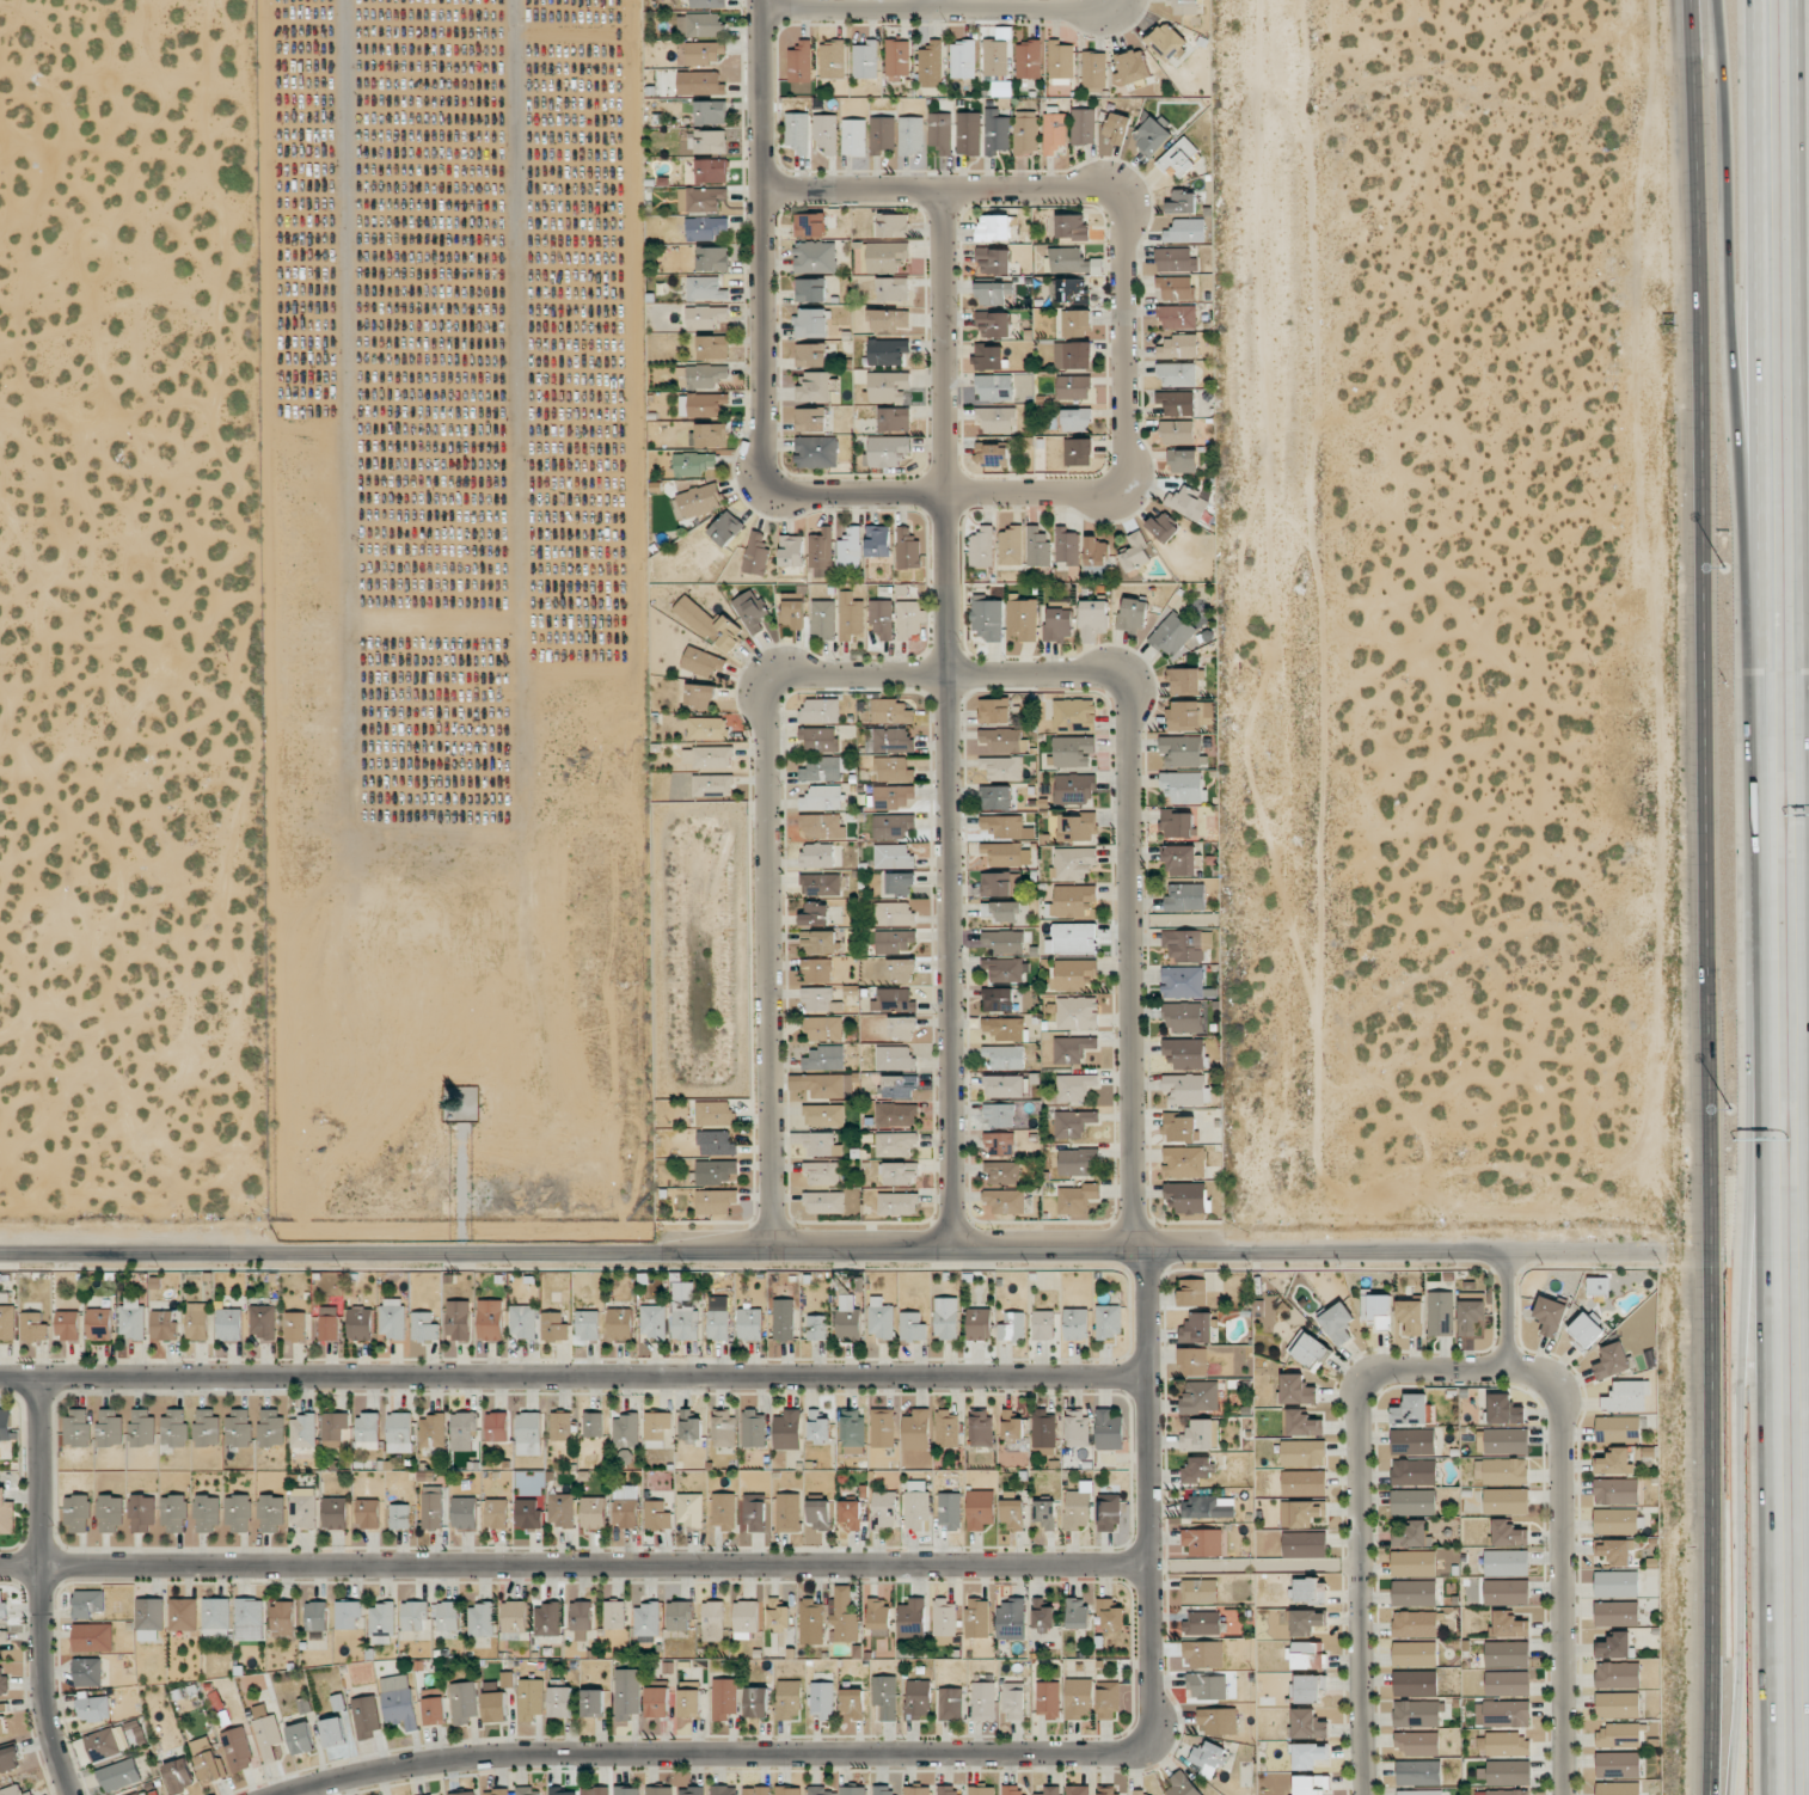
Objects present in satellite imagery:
road: (926, 1)
road: (1114, 1)
road: (932, 2)
building: (707, 4)
building: (1184, 7)
building: (700, 25)
building: (1169, 43)
building: (705, 53)
building: (832, 60)
building: (865, 60)
building: (963, 60)
building: (995, 60)
building: (1029, 60)
building: (1061, 60)
building: (799, 62)
building: (931, 65)
building: (1093, 69)
building: (700, 84)
building: (711, 112)
building: (1083, 127)
building: (1118, 127)
building: (1054, 128)
building: (940, 131)
building: (995, 131)
building: (797, 133)
building: (826, 133)
building: (1025, 133)
building: (882, 135)
building: (910, 135)
building: (1152, 136)
building: (853, 137)
building: (968, 137)
building: (710, 141)
building: (1181, 159)
building: (712, 170)
road: (936, 184)
building: (700, 198)
building: (1181, 202)
building: (809, 225)
building: (893, 225)
building: (1072, 226)
building: (995, 227)
building: (706, 228)
building: (1185, 231)
road: (754, 245)
building: (887, 256)
building: (814, 257)
building: (712, 258)
building: (1176, 259)
building: (994, 261)
building: (1068, 261)
road: (1807, 280)
building: (705, 288)
building: (1175, 288)
building: (810, 289)
building: (893, 289)
building: (1068, 289)
building: (993, 293)
building: (707, 317)
building: (1177, 317)
building: (889, 319)
building: (1077, 321)
building: (811, 323)
building: (994, 324)
road: (1122, 335)
road: (939, 337)
road: (1728, 343)
building: (713, 347)
building: (1178, 347)
building: (888, 351)
building: (810, 355)
building: (1073, 355)
building: (988, 357)
building: (1177, 374)
building: (705, 375)
building: (814, 386)
building: (888, 386)
building: (994, 387)
building: (1074, 387)
building: (1177, 403)
building: (704, 405)
building: (894, 418)
building: (810, 419)
building: (997, 419)
building: (1075, 419)
building: (1177, 431)
building: (709, 434)
building: (887, 451)
building: (816, 452)
building: (1078, 452)
building: (992, 454)
building: (1183, 460)
building: (693, 464)
road: (1034, 488)
road: (850, 490)
building: (699, 500)
building: (1188, 503)
building: (1163, 527)
building: (725, 528)
building: (878, 540)
building: (1011, 545)
building: (1037, 545)
building: (1067, 546)
building: (982, 547)
building: (908, 549)
building: (791, 550)
building: (850, 550)
building: (821, 552)
building: (1096, 552)
building: (1136, 552)
building: (756, 555)
building: (752, 612)
building: (793, 613)
building: (1133, 614)
building: (851, 615)
building: (881, 618)
building: (823, 619)
building: (909, 619)
building: (987, 619)
building: (1092, 619)
building: (710, 624)
building: (1057, 625)
building: (1171, 635)
building: (701, 662)
building: (1185, 681)
building: (700, 697)
building: (994, 710)
building: (820, 711)
building: (890, 711)
building: (1074, 715)
building: (1185, 716)
building: (707, 728)
building: (820, 739)
building: (893, 740)
building: (1004, 740)
building: (1072, 751)
building: (1181, 751)
building: (707, 756)
building: (1001, 767)
building: (823, 770)
building: (893, 770)
road: (764, 782)
building: (712, 785)
building: (1184, 786)
building: (1074, 789)
building: (891, 796)
building: (822, 797)
building: (995, 797)
building: (1178, 823)
building: (821, 825)
building: (891, 826)
building: (1000, 826)
building: (1075, 827)
building: (1000, 853)
building: (893, 856)
building: (1179, 859)
building: (1072, 863)
road: (943, 871)
building: (900, 883)
building: (1000, 883)
building: (821, 884)
building: (1185, 896)
road: (1704, 896)
road: (1760, 896)
building: (1072, 900)
building: (1001, 911)
building: (895, 913)
building: (815, 914)
building: (1072, 938)
building: (818, 941)
building: (896, 941)
building: (1004, 942)
building: (1186, 944)
road: (1127, 962)
building: (901, 969)
building: (1004, 969)
building: (817, 970)
building: (1071, 974)
building: (1183, 982)
building: (820, 999)
building: (893, 999)
building: (998, 999)
building: (1077, 1012)
building: (1183, 1017)
building: (902, 1027)
building: (824, 1028)
building: (1006, 1028)
building: (1072, 1049)
building: (1185, 1053)
building: (1005, 1056)
building: (824, 1058)
building: (895, 1058)
building: (823, 1085)
building: (899, 1086)
building: (1002, 1086)
building: (1074, 1086)
building: (1186, 1089)
building: (713, 1113)
building: (823, 1115)
building: (896, 1115)
building: (999, 1115)
building: (1073, 1123)
building: (1181, 1128)
building: (895, 1142)
building: (716, 1144)
building: (817, 1144)
building: (1000, 1144)
building: (1077, 1162)
building: (1184, 1162)
building: (716, 1171)
building: (822, 1172)
building: (1001, 1172)
building: (897, 1174)
building: (1188, 1196)
building: (1077, 1199)
building: (1006, 1200)
building: (715, 1201)
building: (823, 1202)
building: (897, 1203)
road: (472, 1252)
road: (1225, 1255)
road: (1586, 1255)
building: (1192, 1292)
building: (1376, 1310)
building: (685, 1312)
building: (1440, 1313)
road: (1504, 1313)
building: (1550, 1315)
building: (1411, 1316)
building: (1470, 1316)
building: (133, 1317)
building: (946, 1317)
building: (393, 1318)
building: (848, 1318)
building: (879, 1318)
building: (458, 1319)
building: (490, 1319)
building: (783, 1319)
building: (197, 1321)
building: (522, 1321)
building: (652, 1321)
building: (1109, 1321)
building: (7, 1322)
building: (263, 1322)
building: (329, 1323)
building: (360, 1323)
building: (1338, 1323)
building: (99, 1324)
building: (229, 1324)
building: (620, 1324)
building: (750, 1324)
building: (979, 1324)
building: (1043, 1324)
building: (1075, 1324)
building: (67, 1325)
building: (164, 1325)
building: (718, 1325)
building: (33, 1327)
building: (295, 1327)
building: (424, 1327)
building: (554, 1327)
building: (912, 1327)
building: (1012, 1327)
building: (1197, 1327)
building: (817, 1328)
building: (1586, 1330)
building: (1308, 1349)
building: (1194, 1361)
building: (1611, 1361)
road: (572, 1379)
building: (1296, 1390)
building: (1200, 1397)
building: (1626, 1397)
building: (1504, 1409)
building: (1411, 1410)
building: (1300, 1423)
building: (6, 1425)
building: (593, 1425)
building: (689, 1425)
building: (496, 1426)
building: (560, 1426)
building: (76, 1427)
building: (109, 1427)
building: (141, 1427)
building: (174, 1427)
building: (206, 1427)
building: (270, 1427)
building: (820, 1427)
building: (883, 1427)
building: (1012, 1427)
building: (238, 1428)
building: (333, 1428)
building: (723, 1428)
building: (753, 1428)
building: (852, 1428)
building: (981, 1428)
building: (1077, 1428)
building: (1618, 1428)
building: (464, 1429)
building: (657, 1429)
building: (787, 1429)
building: (916, 1429)
building: (946, 1429)
building: (1043, 1429)
building: (1109, 1429)
building: (303, 1431)
building: (368, 1431)
building: (433, 1431)
building: (626, 1431)
building: (399, 1433)
building: (529, 1433)
building: (1200, 1434)
building: (1412, 1441)
building: (1502, 1441)
building: (1302, 1452)
road: (1741, 1457)
building: (1613, 1463)
building: (1196, 1470)
building: (1501, 1471)
building: (1414, 1472)
building: (1304, 1482)
building: (1615, 1491)
building: (1506, 1500)
building: (1412, 1501)
building: (916, 1505)
building: (626, 1506)
building: (303, 1507)
building: (1078, 1507)
building: (1208, 1507)
building: (431, 1508)
building: (560, 1509)
building: (883, 1509)
building: (980, 1509)
building: (689, 1511)
building: (723, 1511)
building: (949, 1511)
building: (142, 1512)
building: (787, 1512)
building: (6, 1513)
building: (78, 1513)
building: (110, 1513)
building: (174, 1513)
building: (238, 1513)
building: (270, 1513)
building: (335, 1513)
building: (464, 1513)
building: (497, 1513)
building: (593, 1513)
building: (755, 1513)
building: (850, 1513)
building: (1045, 1513)
building: (1109, 1513)
road: (1147, 1513)
building: (1301, 1513)
building: (207, 1514)
building: (368, 1514)
building: (528, 1514)
building: (820, 1514)
building: (1012, 1514)
building: (656, 1515)
road: (1360, 1515)
building: (399, 1517)
building: (1615, 1520)
building: (1507, 1533)
building: (1411, 1534)
building: (1203, 1542)
building: (1305, 1544)
building: (1614, 1551)
road: (1557, 1562)
building: (1414, 1563)
building: (1507, 1563)
road: (20, 1568)
road: (594, 1568)
building: (1615, 1583)
road: (39, 1589)
building: (1198, 1591)
building: (1310, 1591)
building: (1507, 1592)
building: (1414, 1593)
building: (87, 1603)
building: (2, 1606)
building: (1077, 1612)
building: (1617, 1612)
building: (348, 1613)
building: (1043, 1613)
building: (1110, 1613)
building: (183, 1615)
building: (614, 1615)
building: (778, 1615)
building: (317, 1616)
building: (415, 1616)
building: (514, 1617)
building: (844, 1617)
building: (878, 1617)
building: (912, 1617)
building: (944, 1617)
building: (149, 1618)
building: (216, 1618)
building: (746, 1618)
building: (977, 1618)
building: (250, 1619)
building: (282, 1619)
building: (448, 1619)
building: (480, 1619)
building: (546, 1619)
building: (581, 1619)
building: (646, 1619)
building: (1011, 1619)
building: (712, 1621)
building: (811, 1622)
building: (1306, 1622)
building: (382, 1623)
building: (1202, 1623)
building: (1415, 1624)
building: (1508, 1625)
building: (4, 1636)
building: (92, 1637)
building: (1614, 1646)
building: (1204, 1654)
building: (1415, 1654)
building: (1507, 1654)
building: (1306, 1655)
building: (87, 1672)
building: (1618, 1674)
building: (4, 1683)
building: (1416, 1684)
building: (1508, 1684)
building: (1206, 1686)
building: (1307, 1687)
building: (627, 1693)
building: (885, 1696)
building: (1078, 1697)
building: (531, 1698)
building: (724, 1698)
building: (789, 1699)
building: (918, 1699)
building: (1048, 1699)
building: (1108, 1699)
building: (398, 1701)
building: (822, 1701)
building: (1013, 1701)
building: (464, 1702)
building: (560, 1702)
building: (657, 1702)
building: (756, 1702)
building: (982, 1702)
building: (593, 1703)
building: (689, 1703)
building: (852, 1703)
building: (950, 1704)
building: (1618, 1704)
building: (495, 1707)
building: (93, 1709)
building: (435, 1710)
building: (1417, 1714)
building: (1502, 1714)
building: (366, 1716)
building: (4, 1720)
building: (1218, 1721)
building: (1308, 1724)
building: (333, 1732)
building: (268, 1735)
building: (1618, 1735)
building: (301, 1738)
building: (106, 1742)
building: (1416, 1742)
building: (1508, 1744)
building: (238, 1750)
building: (1308, 1754)
road: (693, 1756)
building: (1208, 1758)
building: (10, 1759)
building: (207, 1759)
building: (1618, 1764)
building: (1418, 1772)
building: (1508, 1772)
building: (119, 1775)
building: (179, 1775)
building: (1311, 1784)
building: (1181, 1785)
building: (1618, 1788)
building: (884, 1789)
building: (1078, 1789)
building: (14, 1790)
building: (594, 1790)
building: (626, 1790)
building: (658, 1790)
building: (691, 1790)
building: (723, 1790)
building: (756, 1790)
building: (787, 1790)
building: (852, 1790)
building: (916, 1790)
building: (949, 1790)
building: (981, 1790)
building: (1013, 1790)
building: (1050, 1790)
building: (1108, 1790)
building: (497, 1791)
building: (528, 1791)
building: (562, 1791)
building: (822, 1791)
building: (1137, 1791)
building: (1509, 1791)
building: (141, 1793)
building: (464, 1793)
building: (1421, 1793)
building: (436, 1794)

